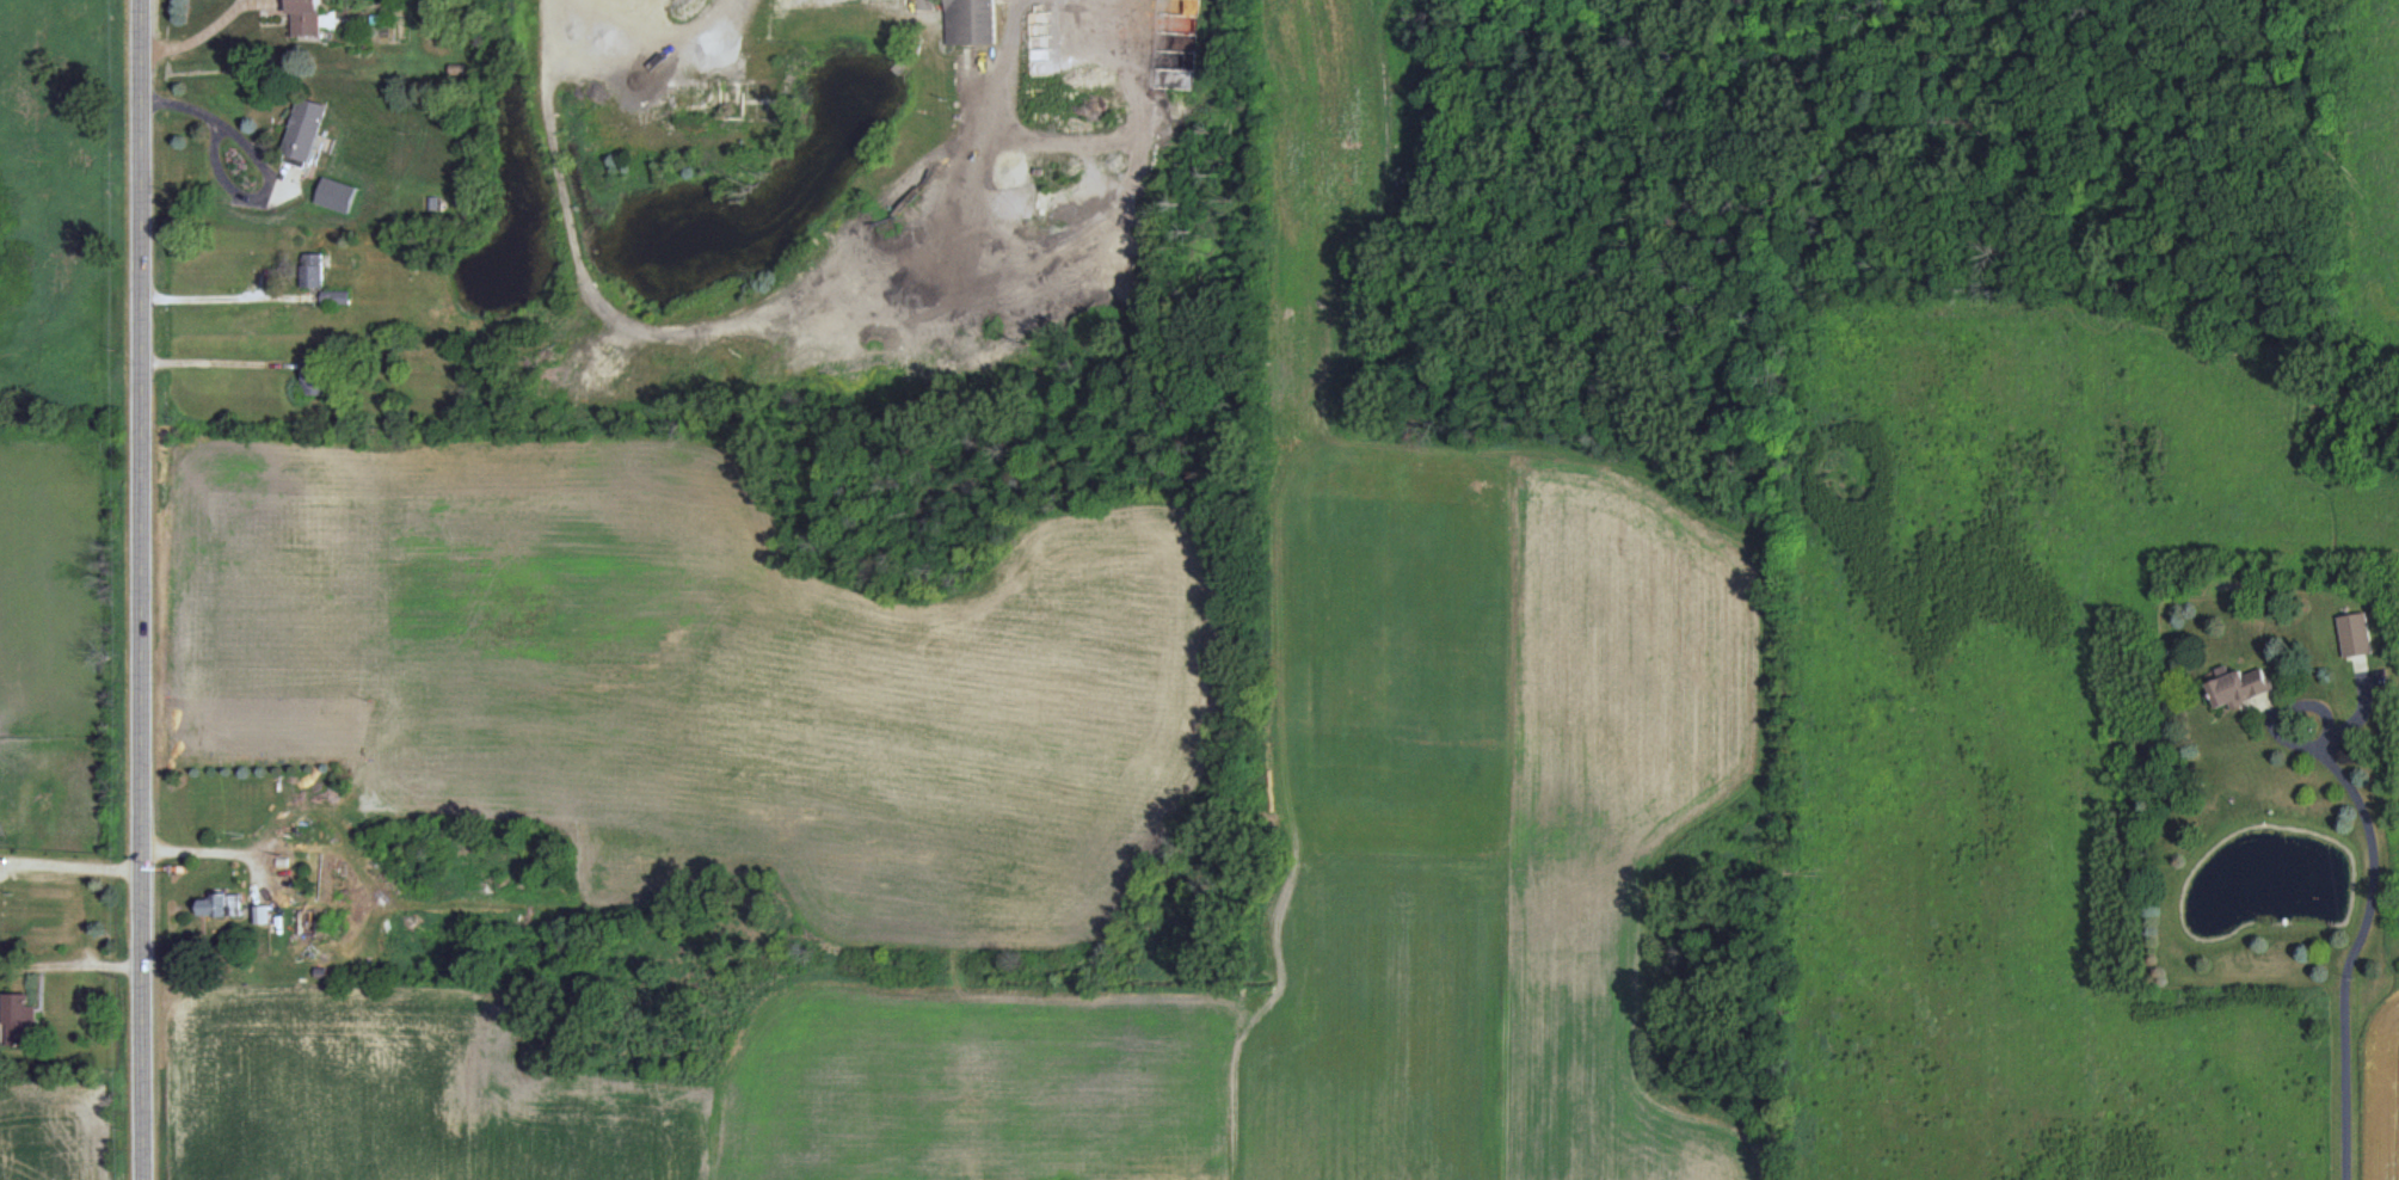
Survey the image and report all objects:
building: (305, 16)
building: (971, 21)
road: (198, 36)
road: (217, 118)
building: (305, 128)
building: (313, 269)
building: (336, 296)
road: (222, 297)
road: (220, 363)
building: (312, 375)
road: (144, 590)
building: (2354, 634)
building: (2238, 687)
road: (2290, 699)
road: (215, 852)
road: (73, 862)
building: (221, 904)
building: (262, 914)
building: (307, 921)
road: (2356, 952)
building: (19, 1019)

